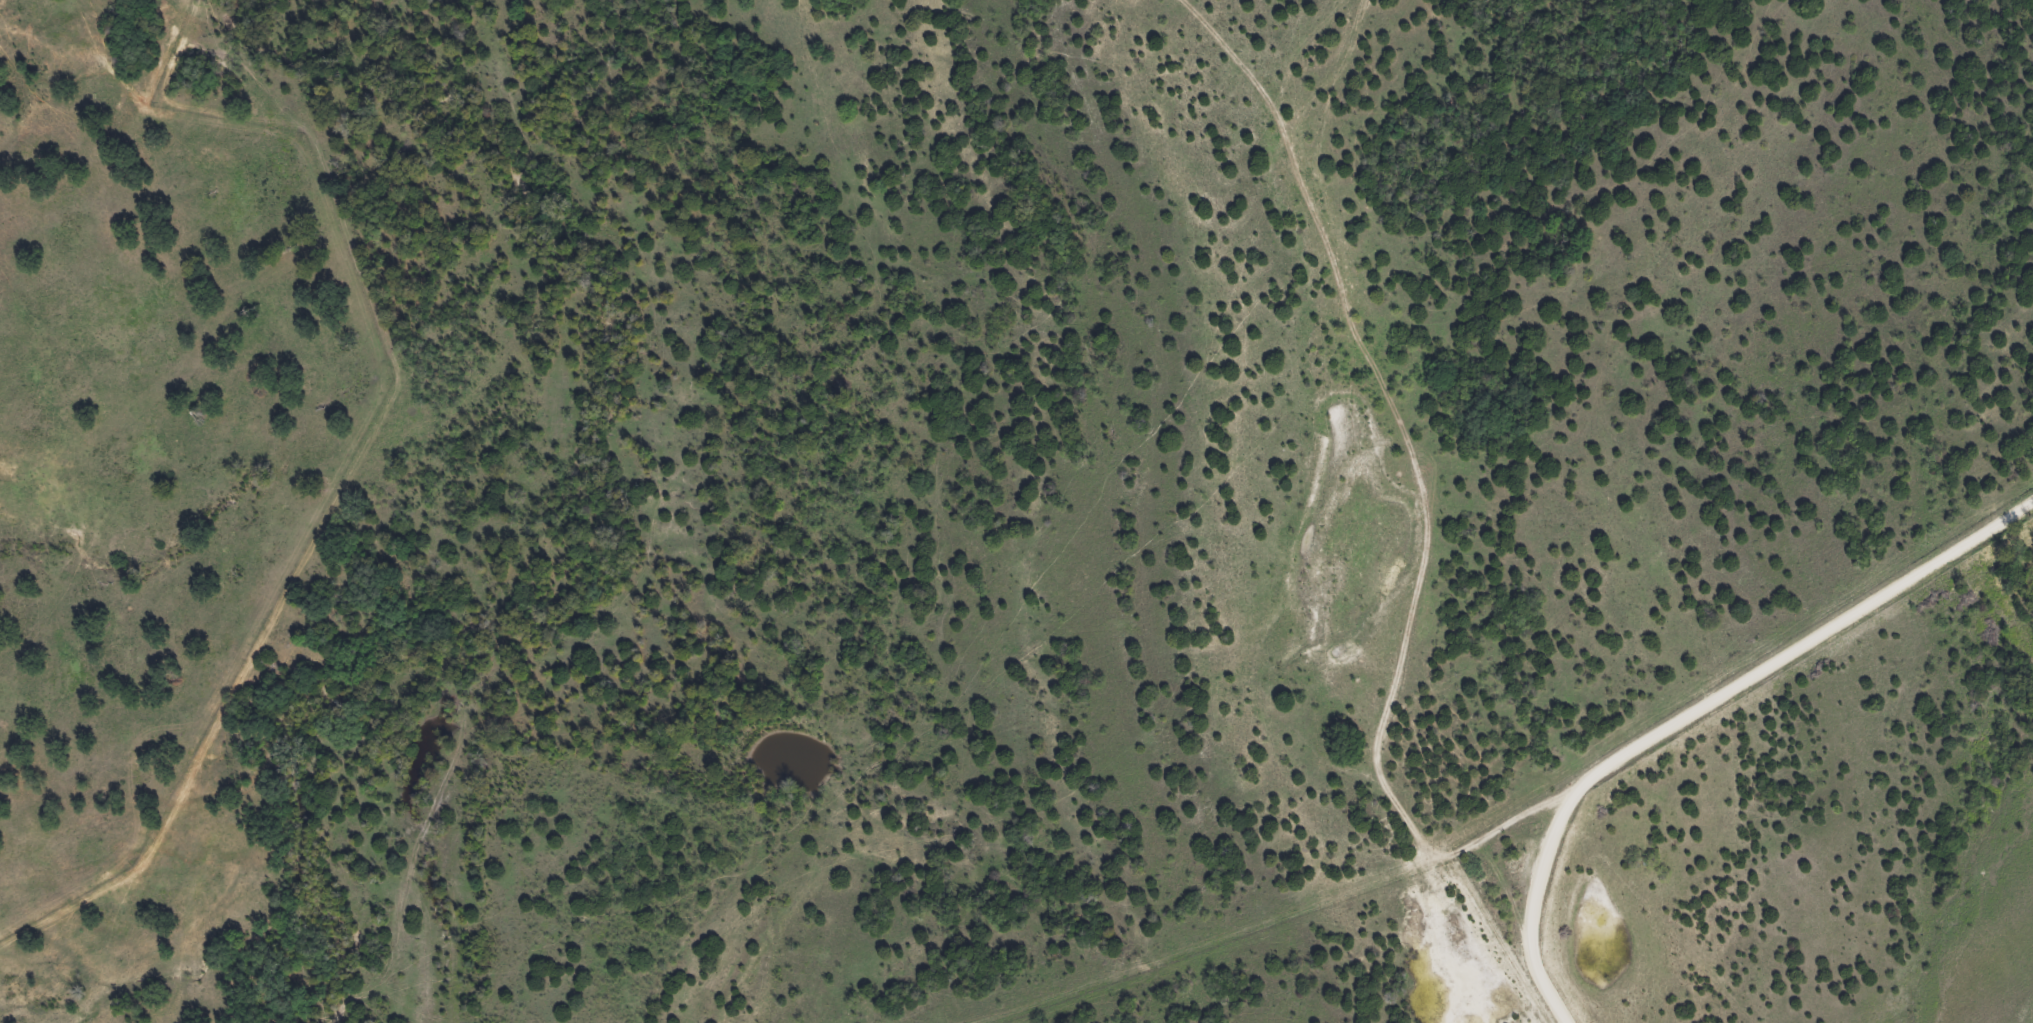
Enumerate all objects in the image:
road: (1702, 712)

